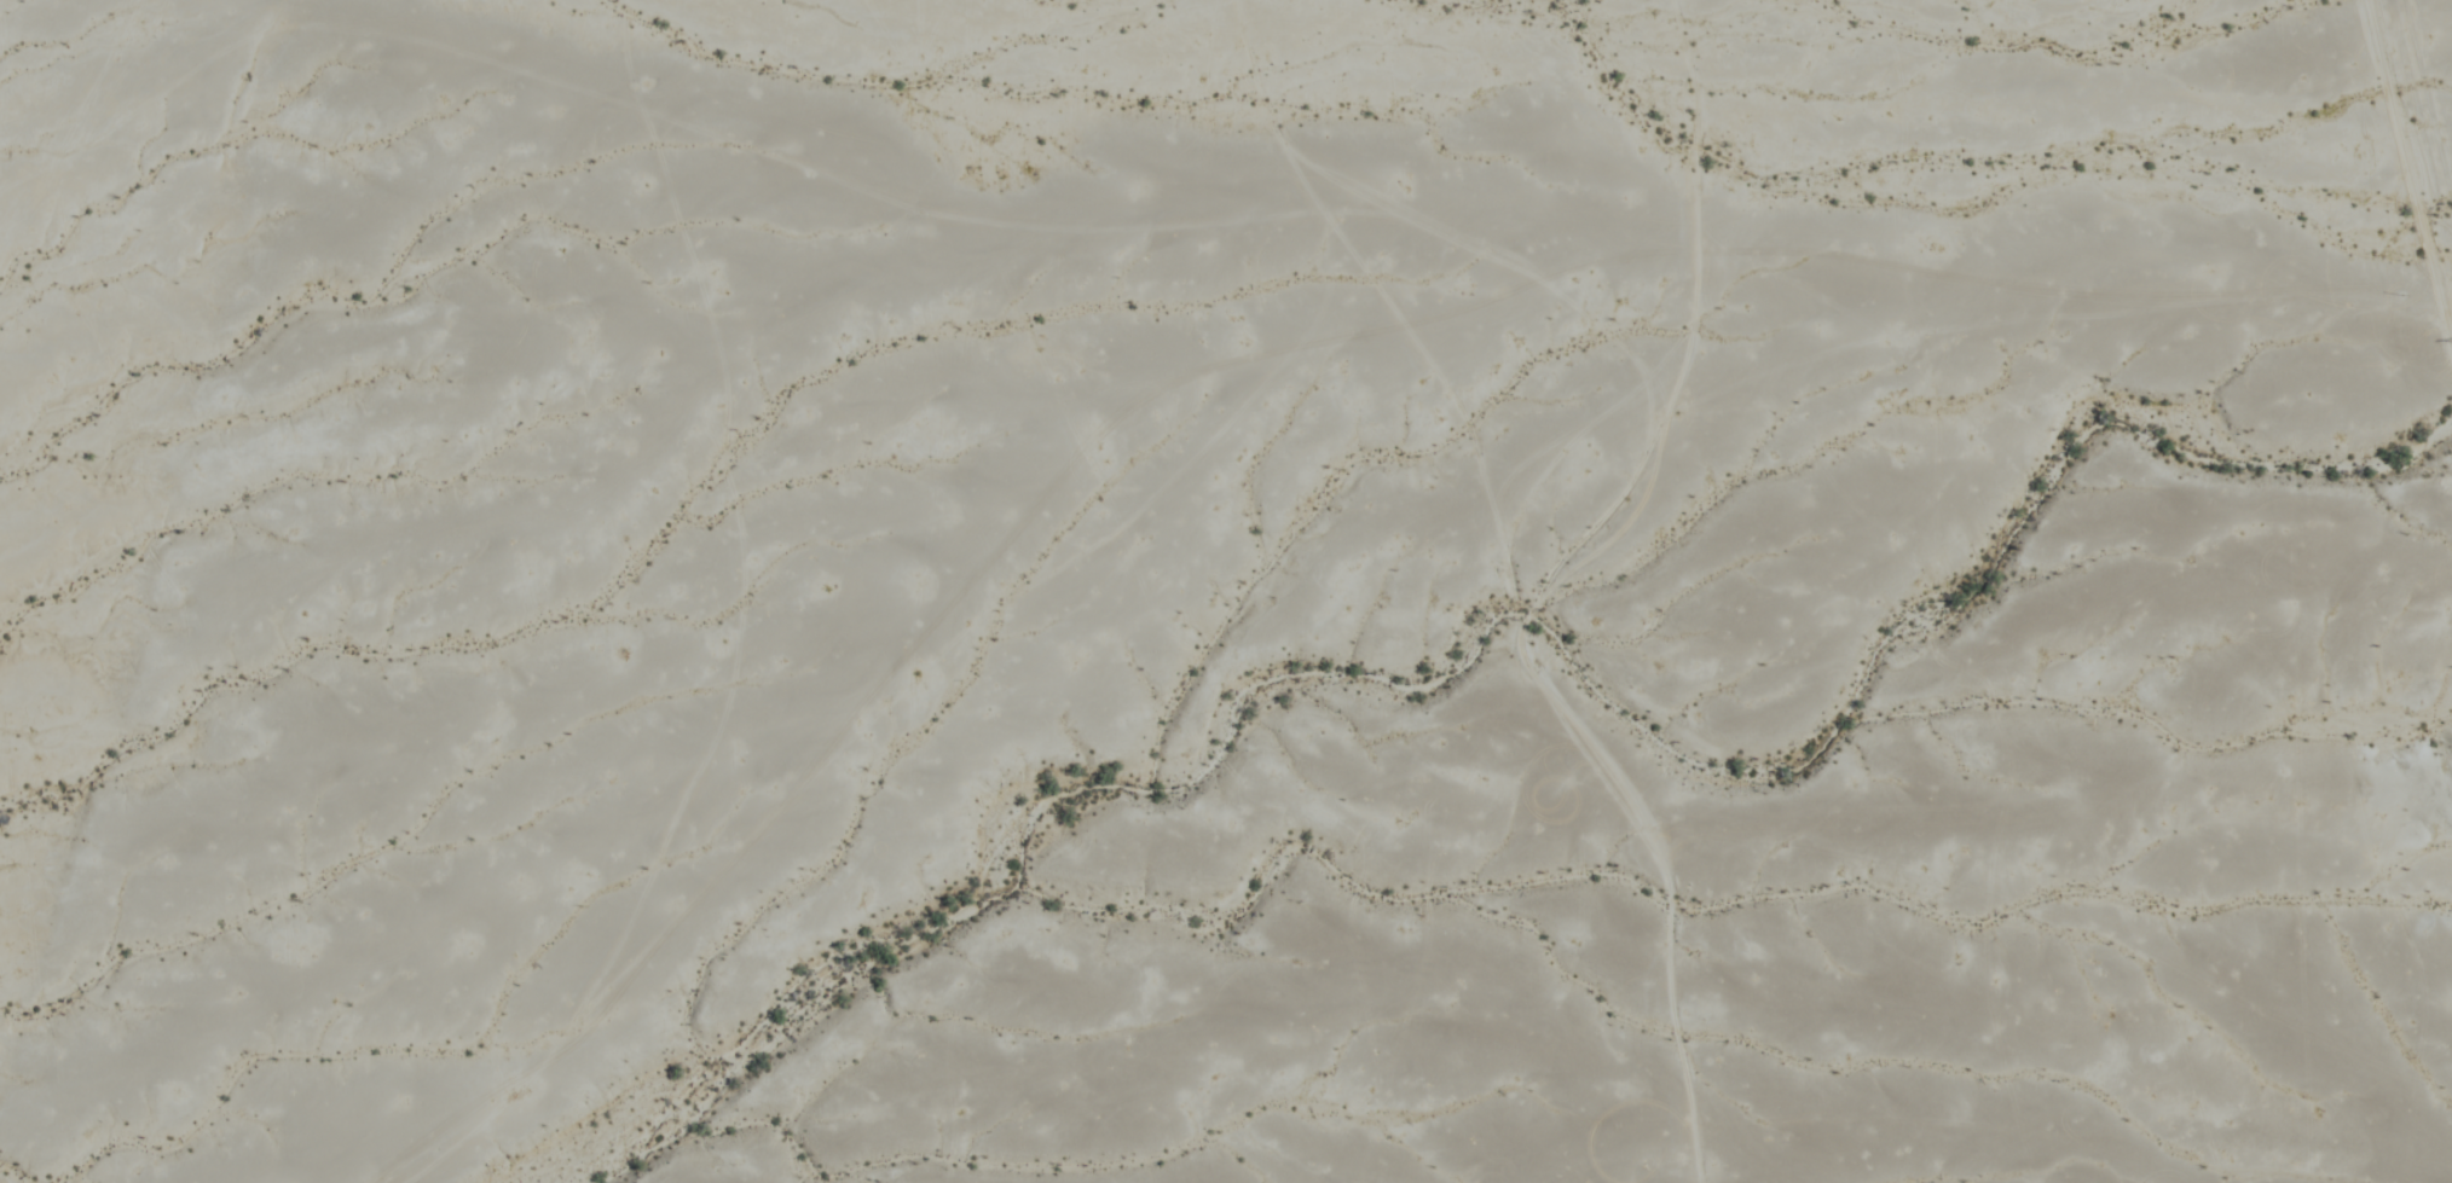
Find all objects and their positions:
road: (2410, 178)

